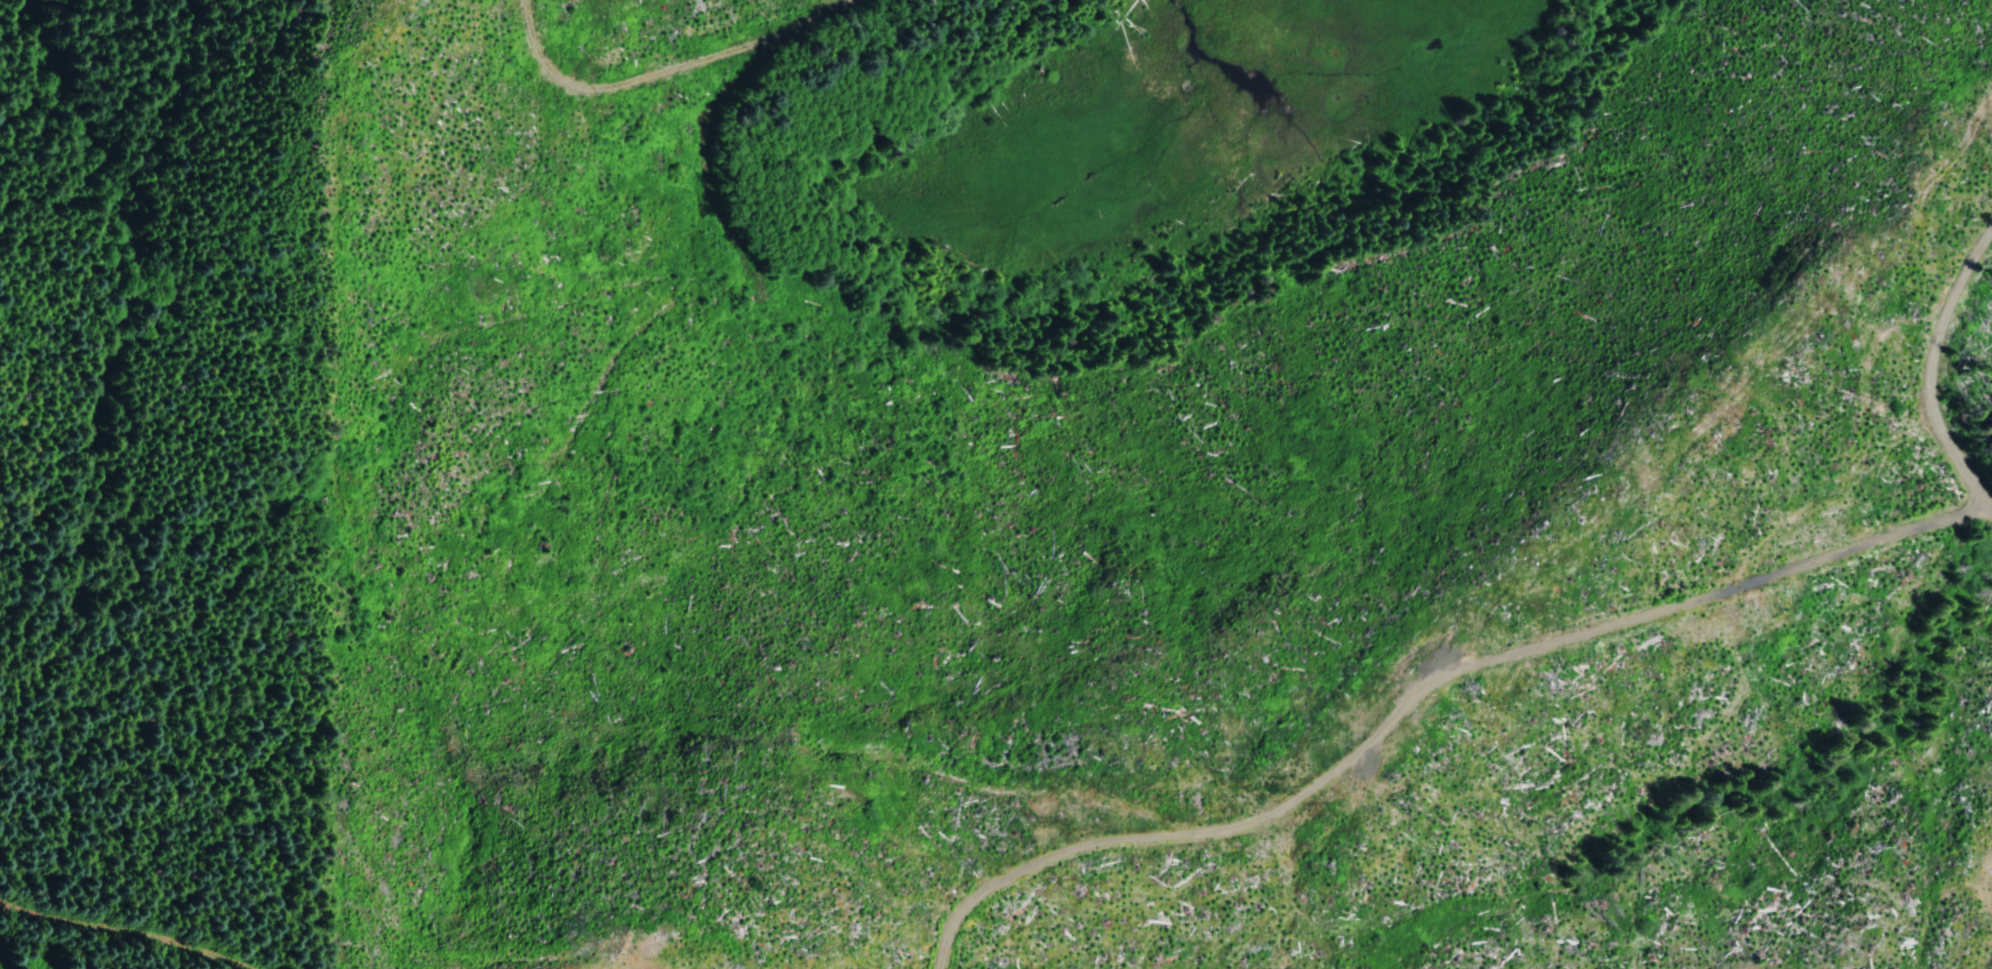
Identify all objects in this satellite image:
road: (719, 115)
road: (1932, 367)
road: (1470, 688)
road: (155, 901)

